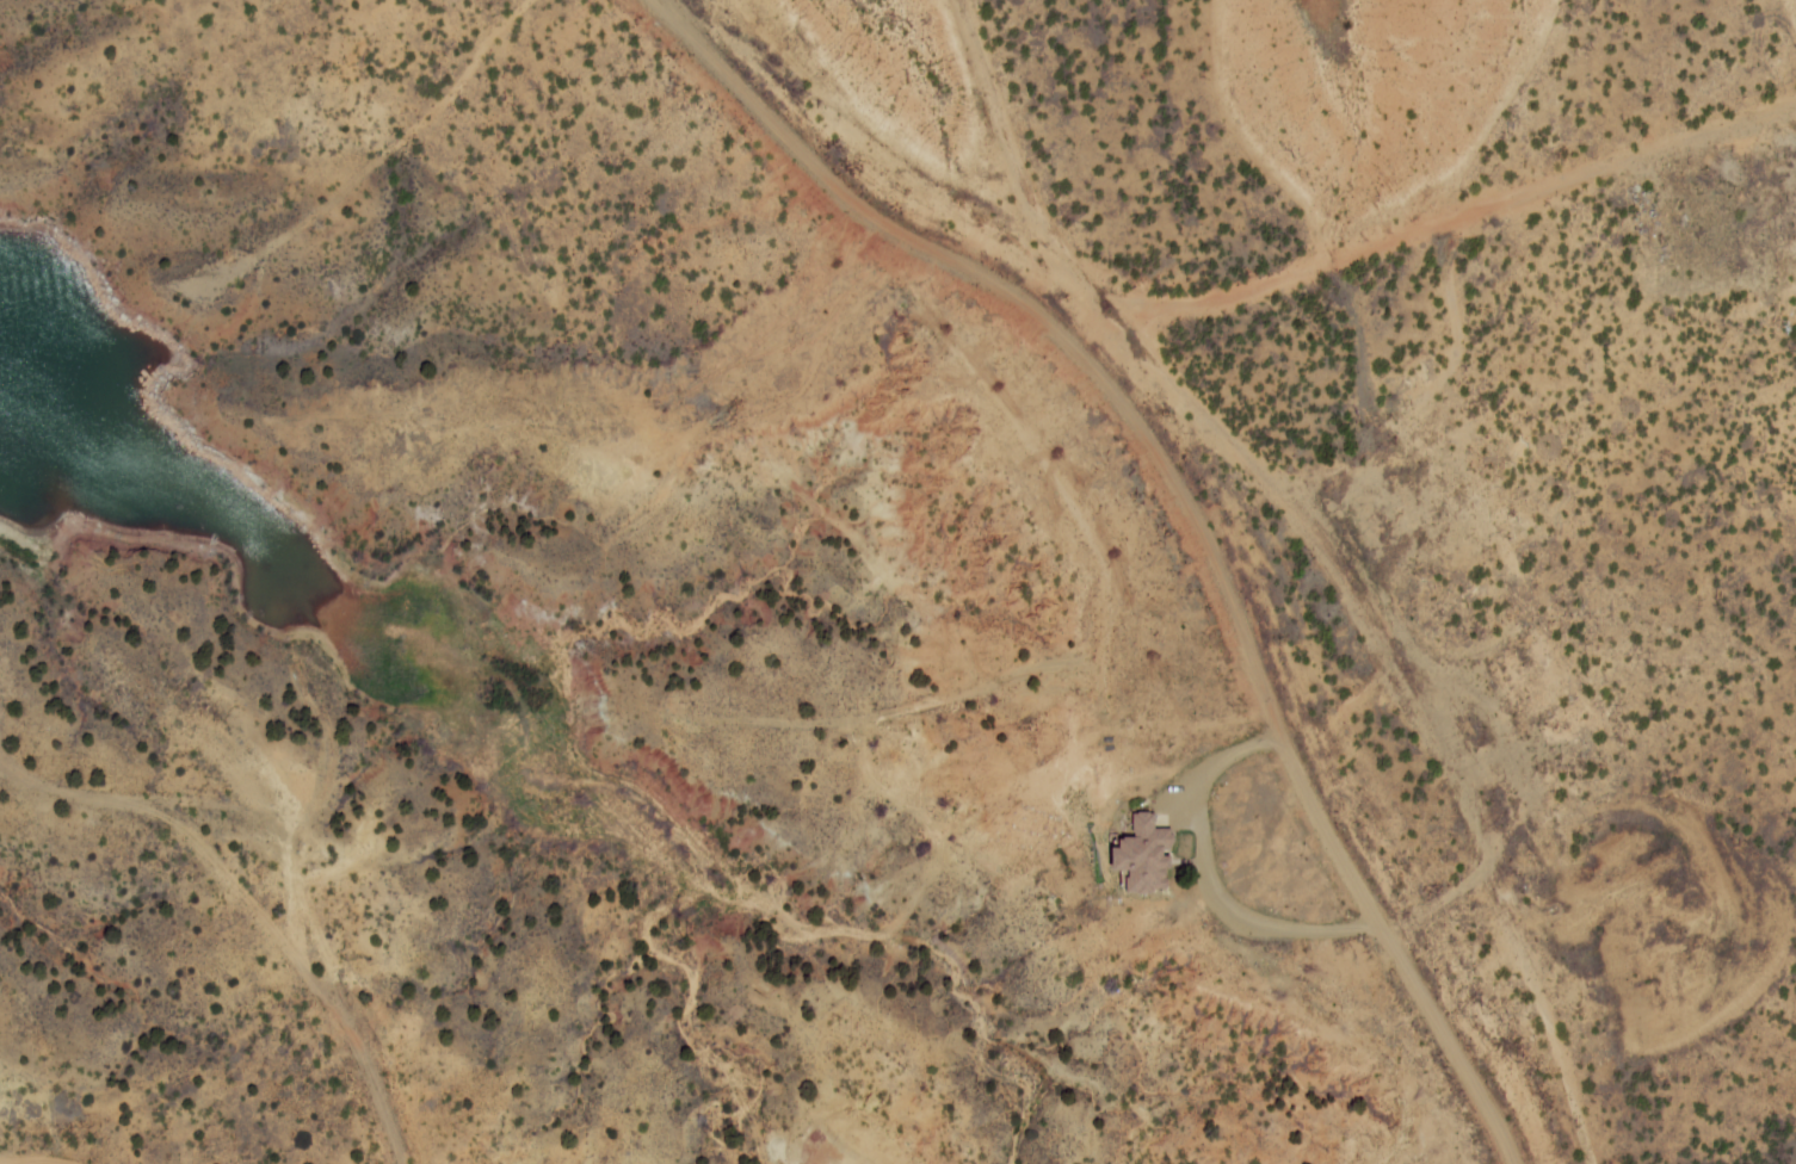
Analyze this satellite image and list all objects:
road: (1187, 507)
building: (1137, 856)
road: (254, 905)

